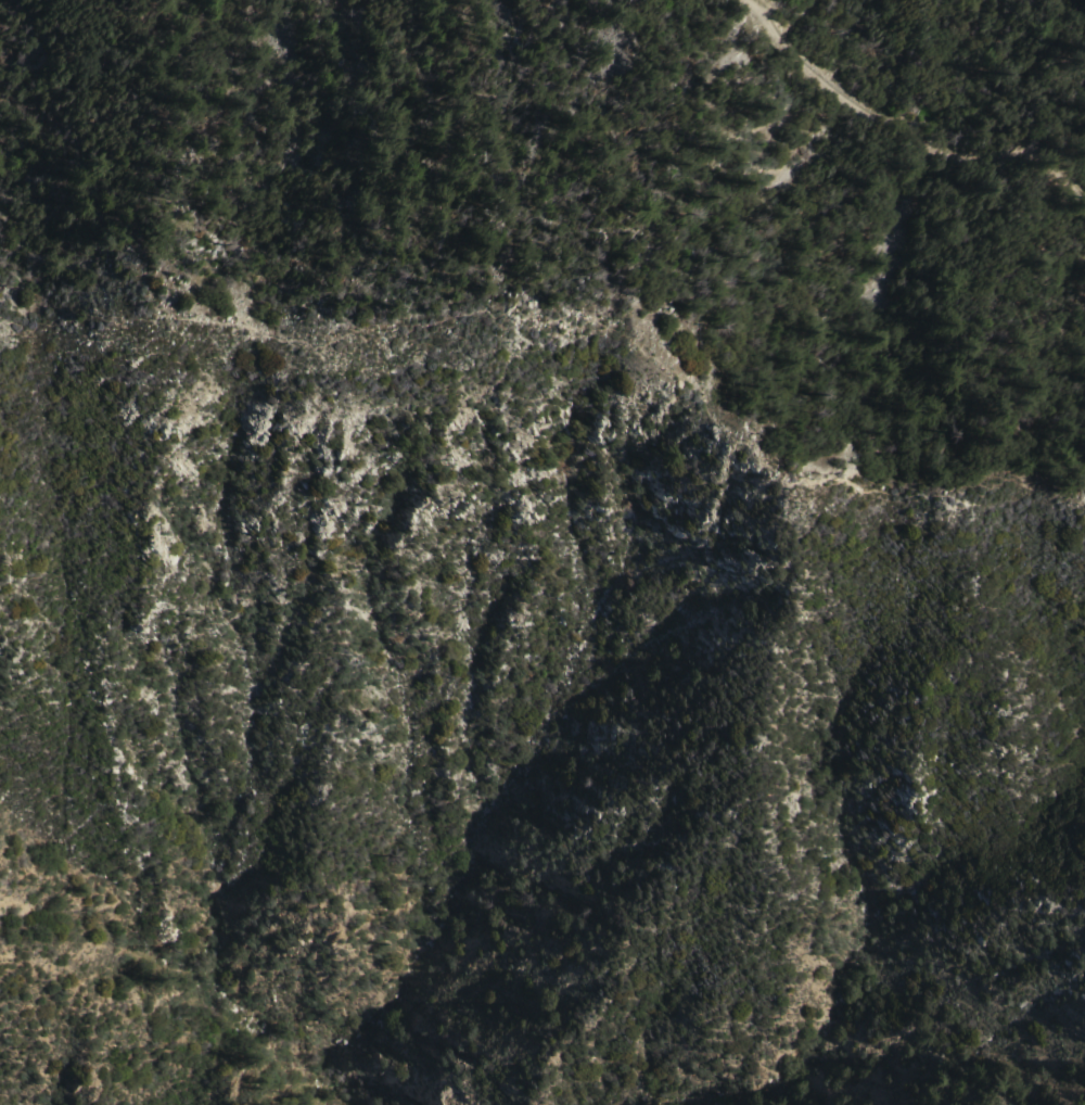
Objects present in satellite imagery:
road: (584, 116)
road: (899, 123)

